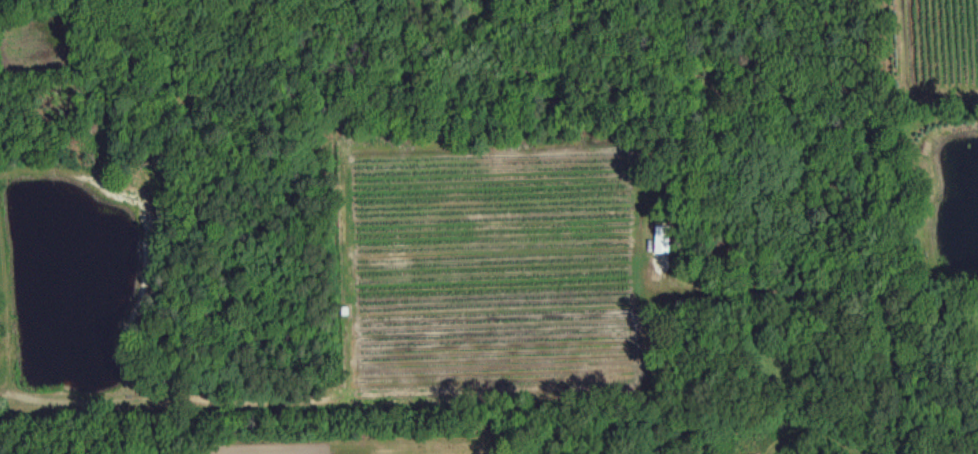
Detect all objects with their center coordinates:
building: (659, 238)

